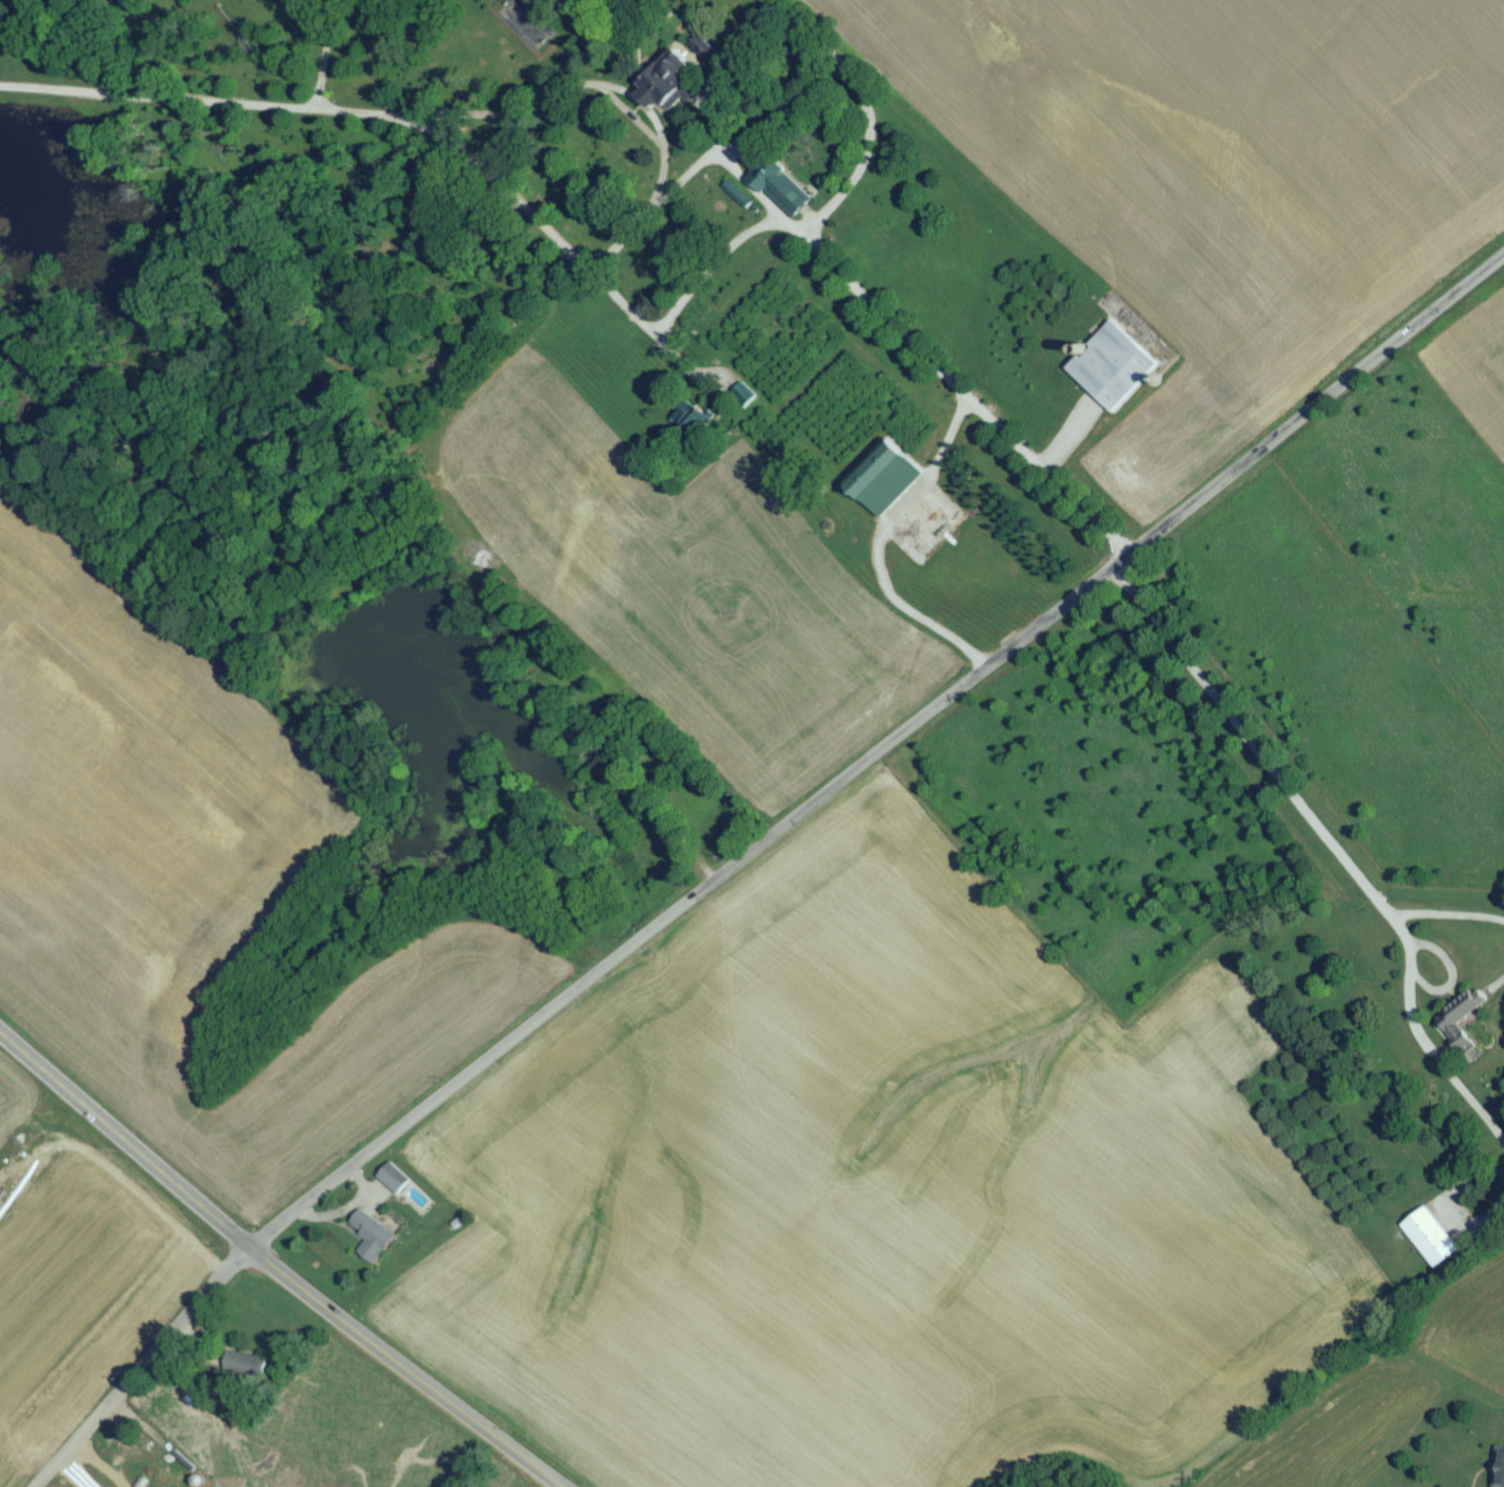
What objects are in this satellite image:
building: (519, 19)
building: (702, 57)
road: (324, 58)
building: (666, 87)
road: (576, 89)
road: (864, 109)
road: (727, 141)
building: (779, 194)
road: (714, 265)
road: (633, 315)
building: (1110, 372)
road: (1315, 411)
road: (1044, 461)
building: (882, 484)
road: (878, 542)
road: (1332, 844)
road: (1001, 894)
road: (1447, 912)
road: (1451, 971)
road: (1497, 981)
building: (1456, 1026)
building: (392, 1183)
road: (1489, 1218)
building: (370, 1241)
building: (1429, 1242)
road: (269, 1273)
road: (135, 1369)
building: (243, 1370)
road: (93, 1464)
building: (1498, 1469)

